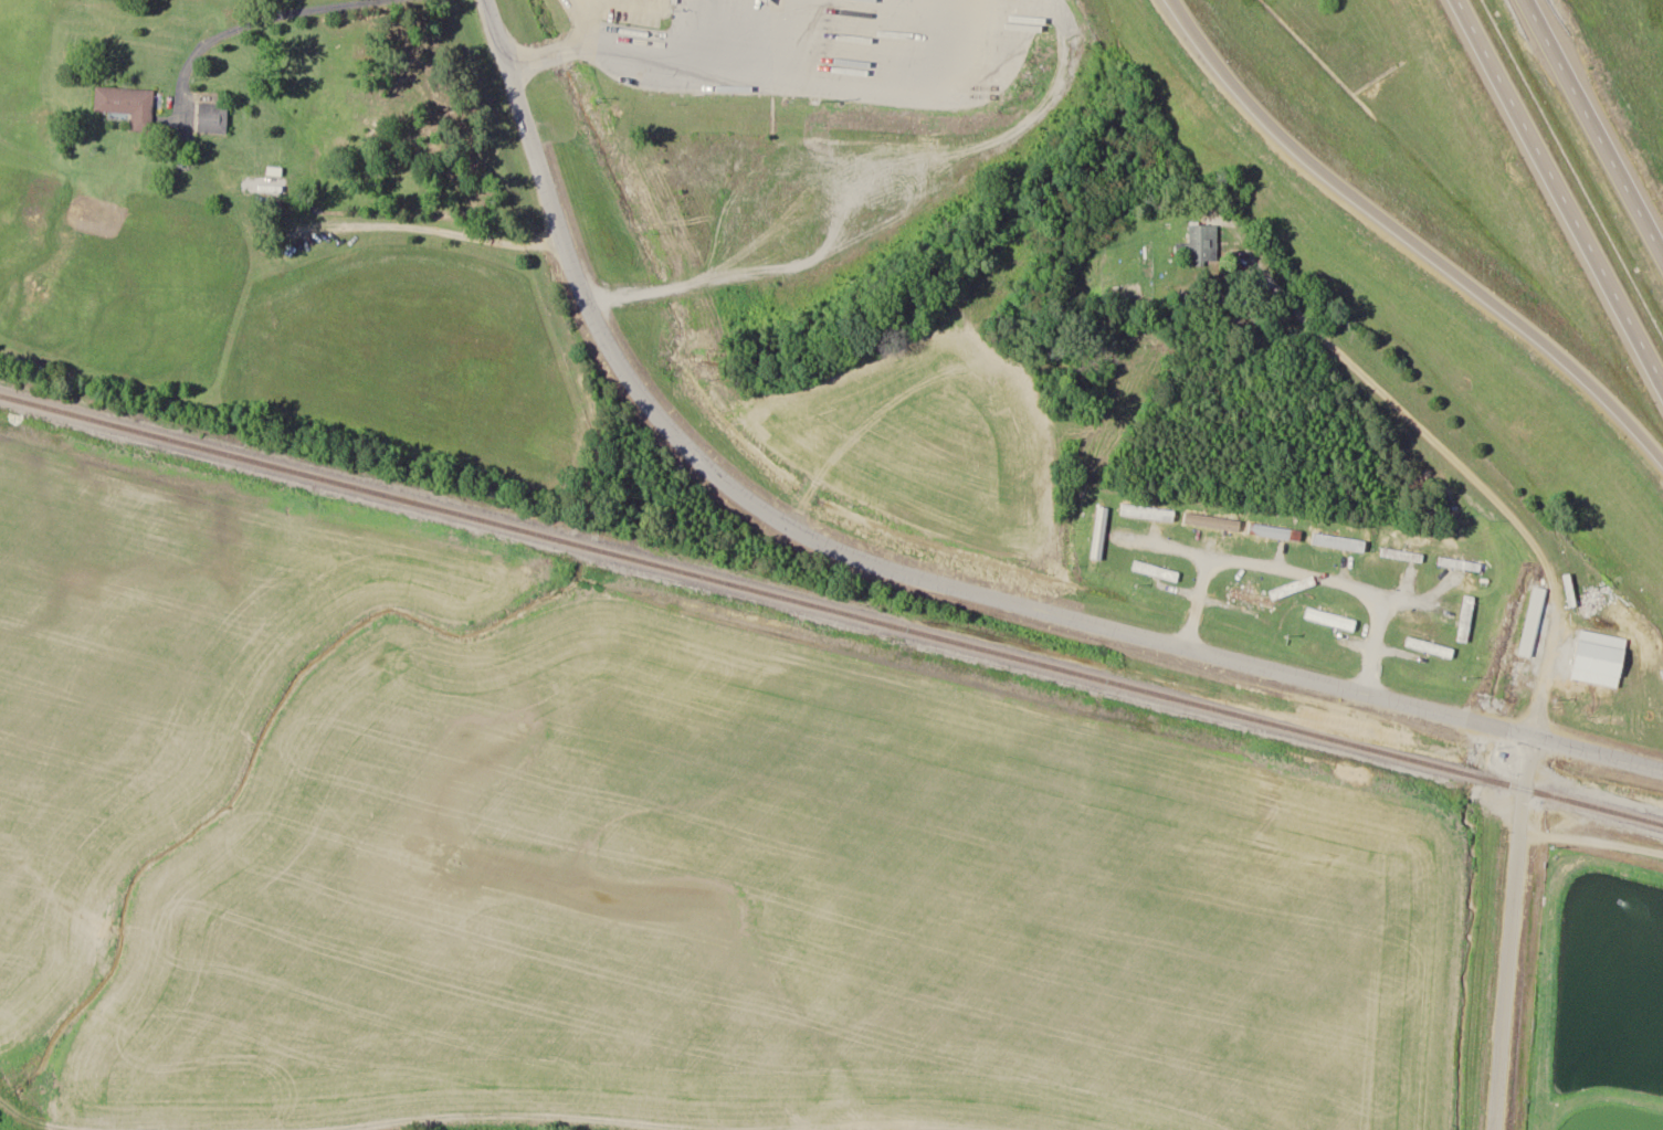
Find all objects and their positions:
road: (244, 23)
road: (806, 36)
road: (568, 47)
road: (792, 72)
building: (127, 104)
building: (211, 117)
road: (1593, 129)
road: (1557, 199)
road: (886, 220)
building: (1200, 242)
road: (1398, 243)
building: (770, 304)
road: (1470, 476)
building: (1150, 514)
building: (1212, 525)
building: (1098, 531)
building: (1277, 535)
building: (1336, 545)
road: (857, 556)
building: (1401, 556)
building: (1460, 564)
building: (1156, 571)
building: (1252, 599)
railway: (831, 610)
building: (1529, 611)
building: (1466, 619)
building: (1329, 620)
building: (1429, 647)
building: (1597, 651)
road: (1599, 753)
road: (1509, 932)
road: (271, 1113)

